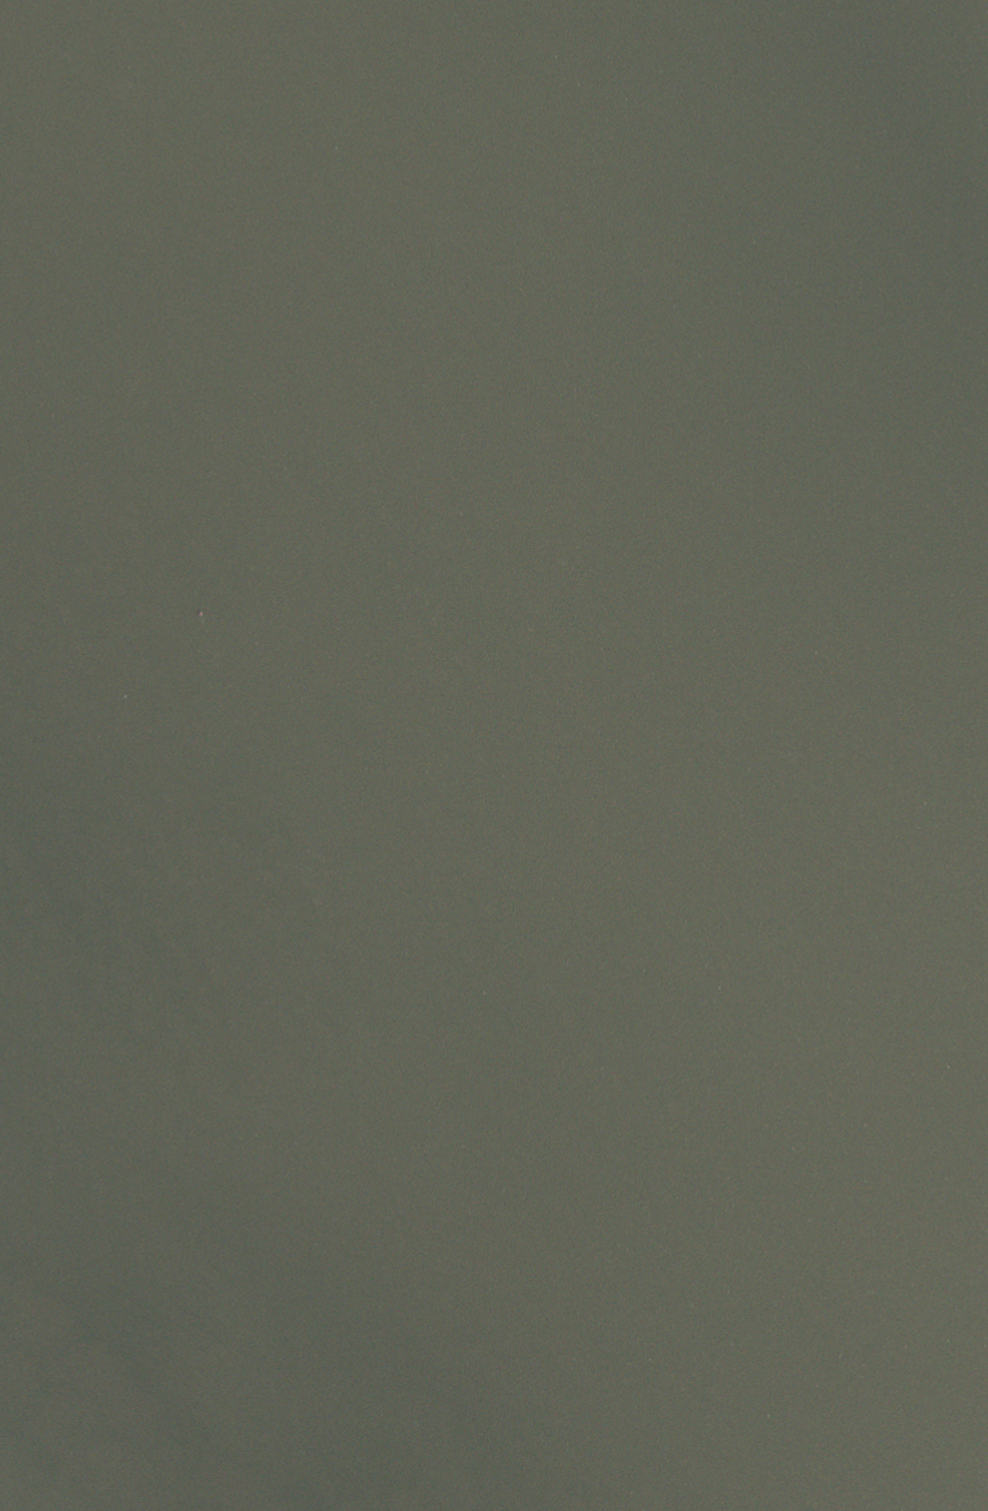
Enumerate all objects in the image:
river: (356, 1170)

